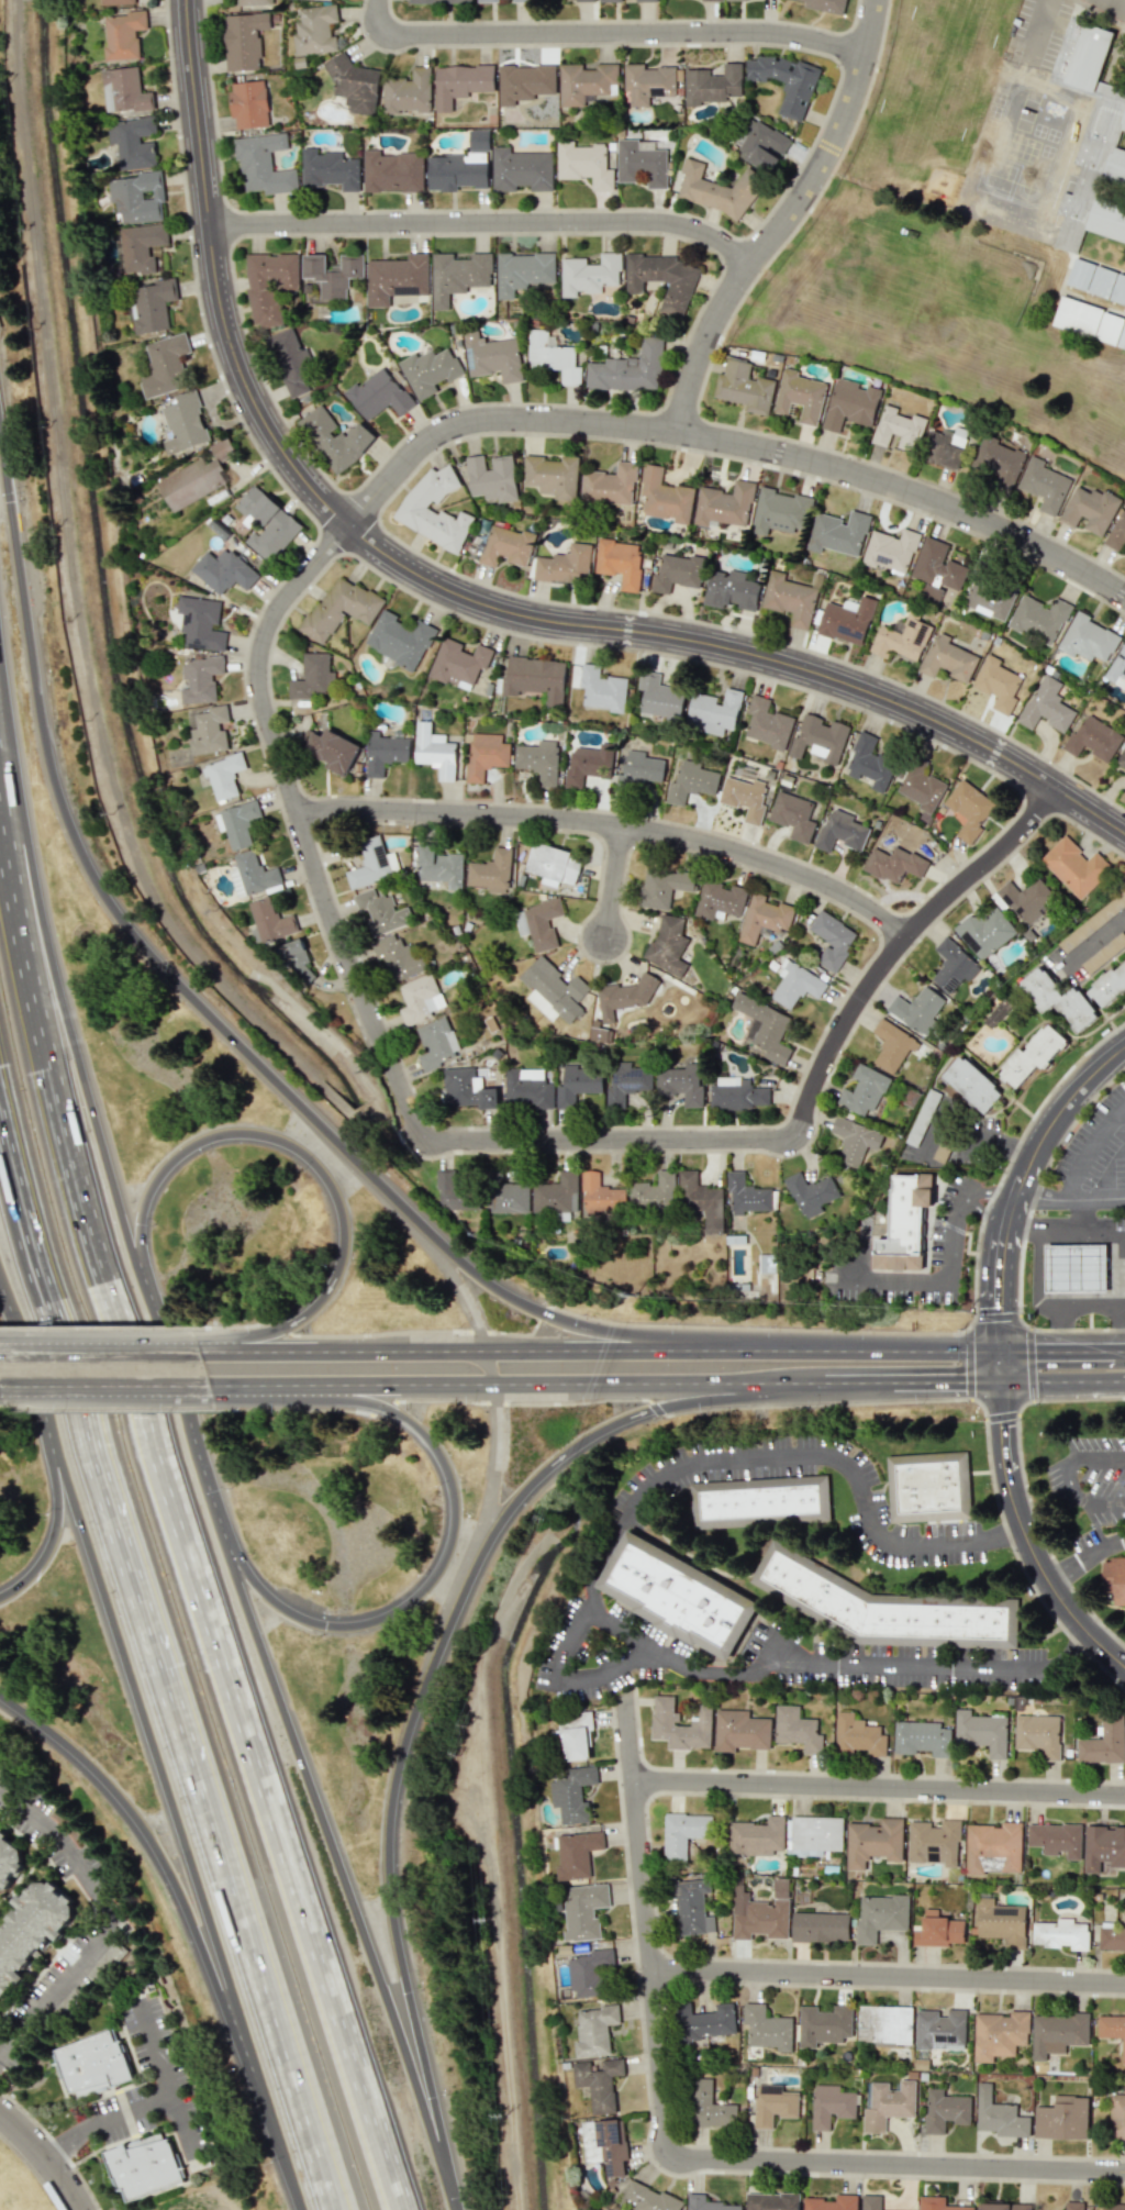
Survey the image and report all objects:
building: (487, 0)
building: (521, 0)
building: (584, 0)
building: (610, 0)
building: (646, 0)
building: (711, 0)
building: (735, 0)
building: (116, 1)
building: (437, 1)
road: (1120, 2)
building: (826, 5)
building: (315, 30)
road: (1028, 30)
road: (604, 31)
building: (123, 34)
building: (244, 40)
building: (525, 81)
building: (586, 81)
building: (787, 81)
building: (460, 82)
building: (647, 82)
building: (354, 85)
building: (712, 85)
building: (124, 90)
building: (408, 91)
building: (248, 103)
building: (1091, 136)
building: (479, 140)
building: (133, 142)
building: (761, 145)
building: (264, 164)
building: (583, 164)
building: (641, 164)
building: (330, 169)
building: (521, 169)
building: (392, 171)
building: (717, 189)
building: (138, 197)
road: (781, 220)
road: (483, 224)
building: (142, 246)
park: (932, 252)
building: (523, 271)
building: (333, 273)
building: (589, 274)
building: (457, 275)
building: (397, 278)
building: (662, 279)
building: (1096, 281)
building: (270, 286)
building: (152, 306)
building: (1089, 321)
building: (492, 357)
building: (552, 357)
building: (291, 362)
building: (165, 366)
building: (630, 368)
building: (430, 370)
building: (744, 387)
building: (379, 395)
building: (800, 396)
building: (850, 403)
building: (185, 423)
building: (898, 429)
building: (336, 437)
road: (729, 442)
building: (946, 446)
building: (999, 460)
building: (552, 476)
building: (198, 477)
building: (492, 478)
building: (610, 485)
building: (1044, 485)
building: (665, 497)
building: (724, 504)
building: (414, 508)
building: (1090, 509)
building: (780, 512)
building: (267, 523)
building: (838, 533)
building: (1117, 534)
building: (508, 546)
building: (890, 549)
building: (620, 562)
building: (565, 565)
building: (938, 569)
building: (223, 570)
building: (677, 573)
building: (731, 590)
road: (467, 598)
building: (789, 598)
building: (990, 599)
building: (339, 608)
building: (1039, 618)
building: (847, 620)
building: (201, 623)
building: (901, 638)
building: (1088, 638)
building: (399, 640)
building: (948, 658)
building: (459, 663)
building: (1117, 669)
building: (312, 677)
building: (200, 678)
building: (535, 678)
building: (998, 684)
building: (602, 689)
building: (660, 697)
building: (1047, 706)
building: (714, 712)
building: (767, 723)
building: (209, 730)
building: (820, 738)
building: (1094, 738)
building: (333, 749)
building: (434, 751)
building: (385, 752)
building: (486, 754)
building: (1121, 759)
building: (539, 760)
building: (870, 763)
building: (588, 764)
building: (639, 769)
building: (223, 775)
building: (691, 781)
building: (922, 788)
building: (745, 798)
building: (969, 809)
building: (793, 815)
building: (237, 823)
road: (615, 824)
building: (840, 831)
building: (372, 863)
building: (553, 863)
building: (893, 864)
building: (439, 866)
building: (1074, 866)
building: (491, 871)
building: (253, 874)
road: (611, 877)
building: (664, 886)
building: (1025, 898)
building: (720, 900)
building: (381, 911)
building: (764, 918)
building: (270, 920)
building: (1093, 922)
building: (538, 923)
building: (984, 932)
building: (832, 940)
building: (667, 946)
road: (1090, 947)
building: (396, 957)
building: (298, 962)
road: (55, 966)
building: (953, 966)
building: (797, 984)
building: (1109, 986)
building: (552, 990)
building: (624, 997)
building: (417, 999)
building: (1058, 999)
road: (200, 1003)
building: (917, 1009)
building: (765, 1026)
building: (435, 1042)
building: (892, 1045)
building: (1033, 1055)
building: (578, 1081)
building: (627, 1081)
building: (681, 1084)
building: (972, 1085)
building: (527, 1088)
building: (466, 1089)
building: (862, 1090)
building: (737, 1093)
road: (1071, 1101)
road: (934, 1128)
road: (494, 1139)
building: (854, 1141)
road: (985, 1143)
road: (292, 1146)
parking lot: (1094, 1150)
road: (1093, 1153)
road: (1027, 1179)
road: (1121, 1190)
building: (654, 1191)
road: (989, 1191)
building: (457, 1193)
building: (811, 1193)
building: (556, 1195)
building: (601, 1195)
building: (746, 1195)
building: (509, 1197)
road: (1042, 1198)
road: (1102, 1198)
building: (701, 1199)
road: (1070, 1199)
road: (1017, 1208)
road: (987, 1212)
building: (905, 1213)
road: (1087, 1213)
road: (1026, 1223)
road: (1118, 1248)
building: (1079, 1269)
road: (449, 1274)
building: (758, 1281)
road: (940, 1282)
road: (1006, 1284)
road: (1035, 1292)
road: (1092, 1306)
road: (129, 1342)
road: (370, 1343)
road: (1118, 1343)
road: (1060, 1344)
road: (588, 1346)
road: (849, 1346)
road: (487, 1363)
road: (1007, 1365)
road: (375, 1378)
road: (129, 1379)
road: (31, 1381)
road: (656, 1381)
road: (857, 1382)
road: (1066, 1382)
road: (949, 1384)
road: (86, 1407)
road: (984, 1408)
road: (185, 1409)
road: (493, 1466)
road: (1068, 1475)
building: (931, 1486)
road: (1025, 1488)
building: (761, 1504)
road: (1031, 1542)
road: (448, 1543)
road: (187, 1550)
road: (51, 1551)
road: (1085, 1557)
building: (1114, 1578)
building: (680, 1596)
building: (888, 1609)
road: (567, 1629)
road: (441, 1648)
building: (680, 1724)
building: (797, 1729)
building: (739, 1731)
building: (981, 1732)
building: (1038, 1734)
building: (576, 1735)
building: (857, 1735)
building: (922, 1737)
building: (1104, 1743)
road: (844, 1772)
road: (880, 1788)
building: (572, 1793)
building: (683, 1833)
building: (813, 1835)
building: (757, 1836)
building: (1056, 1839)
building: (873, 1842)
building: (934, 1842)
road: (186, 1845)
building: (1103, 1847)
building: (993, 1848)
building: (576, 1853)
building: (9, 1862)
road: (343, 1875)
building: (691, 1906)
building: (583, 1911)
building: (760, 1912)
building: (880, 1915)
building: (1001, 1922)
road: (107, 1925)
road: (192, 1925)
building: (820, 1926)
building: (31, 1929)
building: (938, 1930)
building: (1060, 1934)
building: (1112, 1939)
road: (259, 1962)
building: (588, 1972)
road: (889, 1976)
building: (705, 2022)
building: (884, 2023)
building: (823, 2024)
building: (767, 2028)
building: (1112, 2029)
building: (594, 2030)
building: (940, 2030)
building: (1057, 2033)
building: (1000, 2034)
building: (92, 2063)
road: (167, 2077)
parking lot: (170, 2078)
building: (598, 2083)
building: (772, 2105)
building: (831, 2105)
building: (888, 2105)
building: (709, 2107)
building: (945, 2110)
building: (999, 2114)
building: (1116, 2117)
building: (1062, 2119)
road: (105, 2121)
building: (604, 2144)
road: (54, 2146)
road: (670, 2153)
road: (43, 2158)
building: (143, 2165)
road: (657, 2165)
road: (31, 2172)
building: (649, 2198)
building: (771, 2201)
building: (832, 2202)
building: (870, 2202)
building: (708, 2203)
building: (937, 2203)
building: (1003, 2206)
building: (1073, 2206)
building: (1113, 2206)

